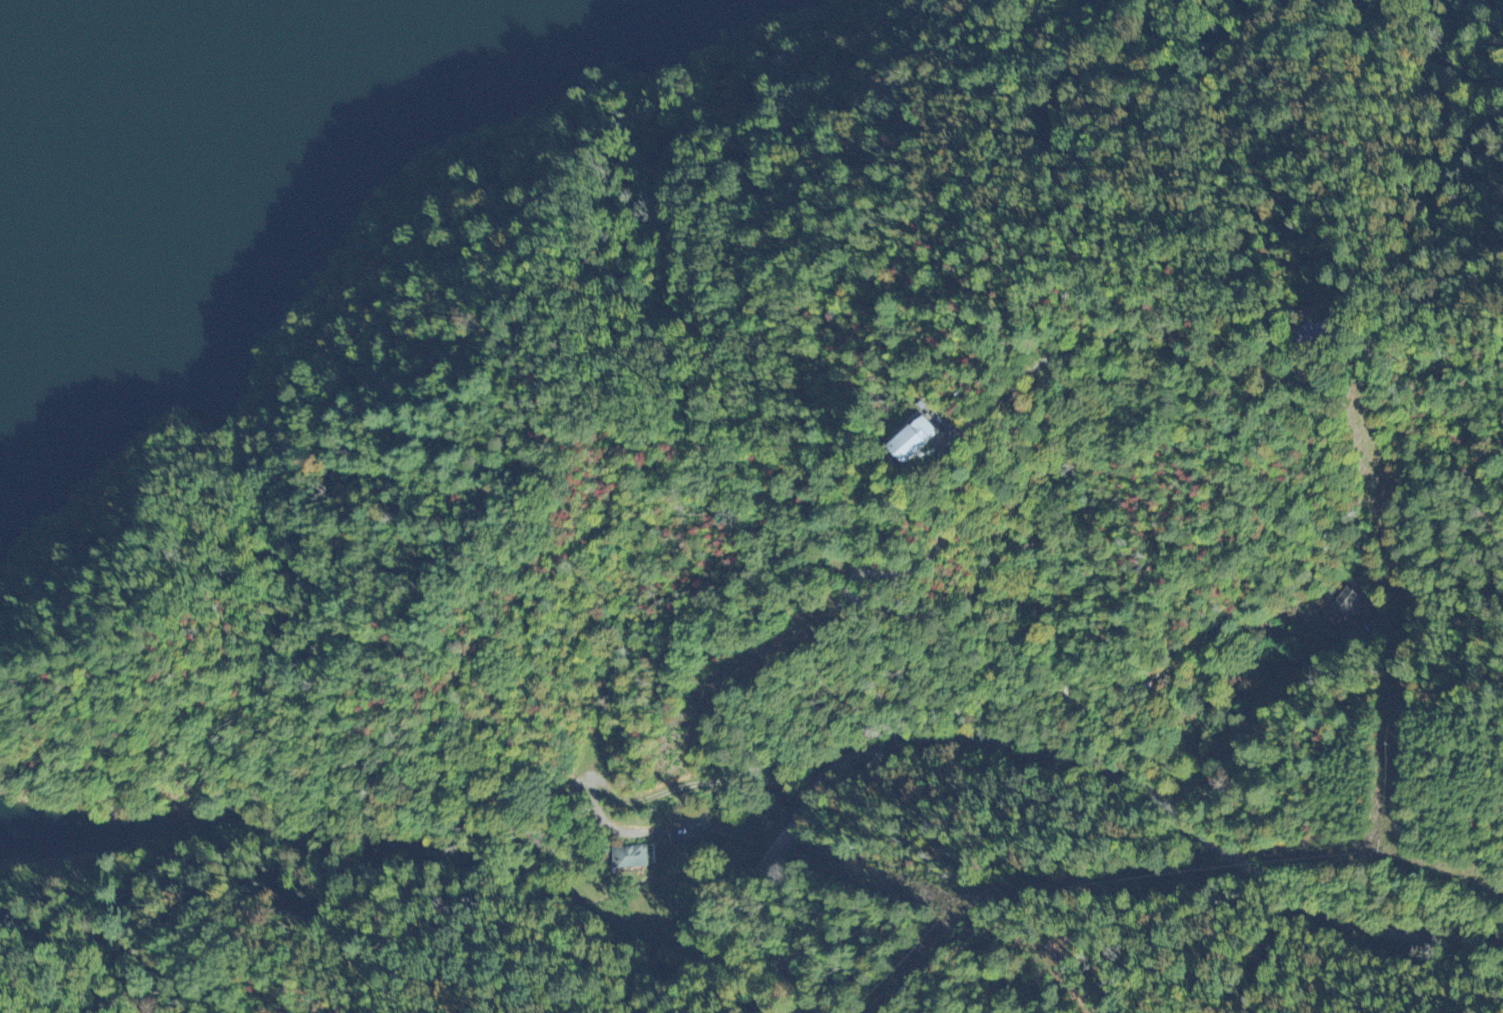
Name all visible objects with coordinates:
river: (229, 19)
river: (105, 121)
building: (919, 442)
road: (1283, 455)
road: (1212, 550)
building: (1346, 606)
road: (1076, 726)
building: (630, 859)

